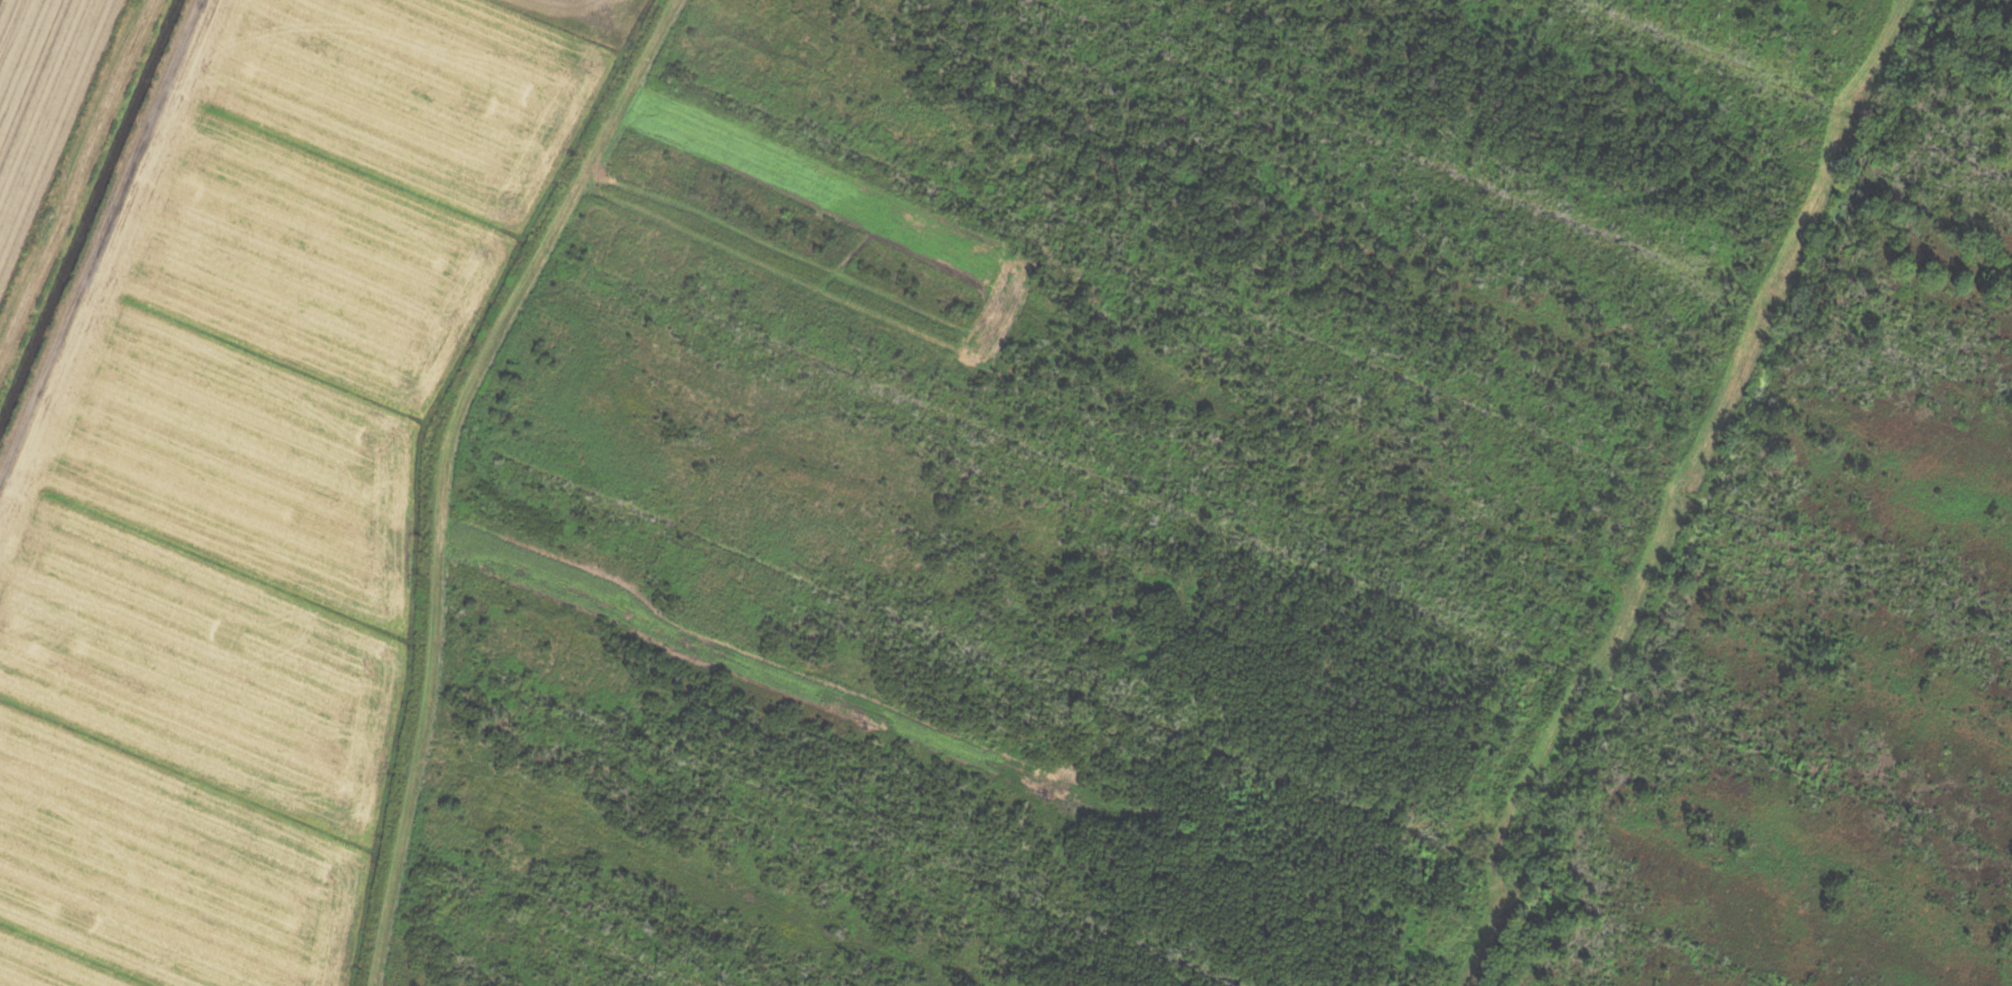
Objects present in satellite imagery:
road: (71, 169)
crop: (234, 443)
road: (1687, 493)

